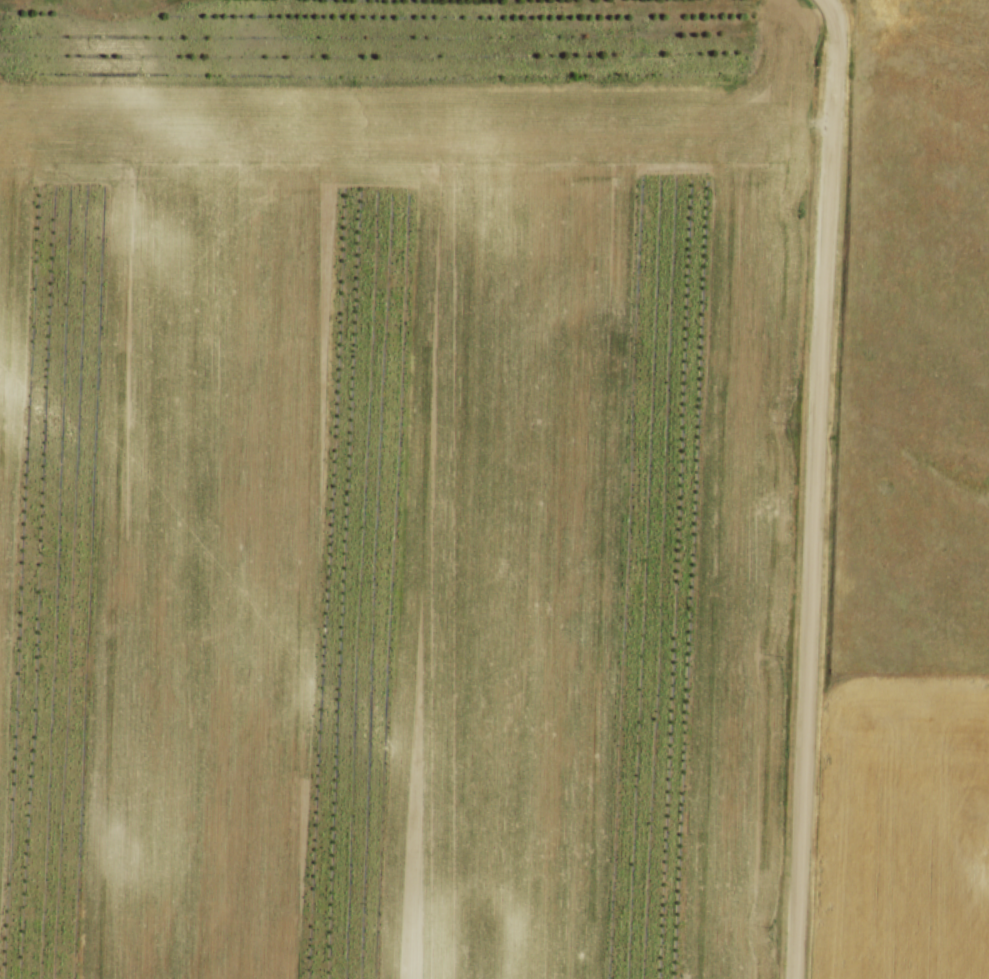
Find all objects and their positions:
road: (809, 488)
crop: (395, 521)
crop: (903, 828)

